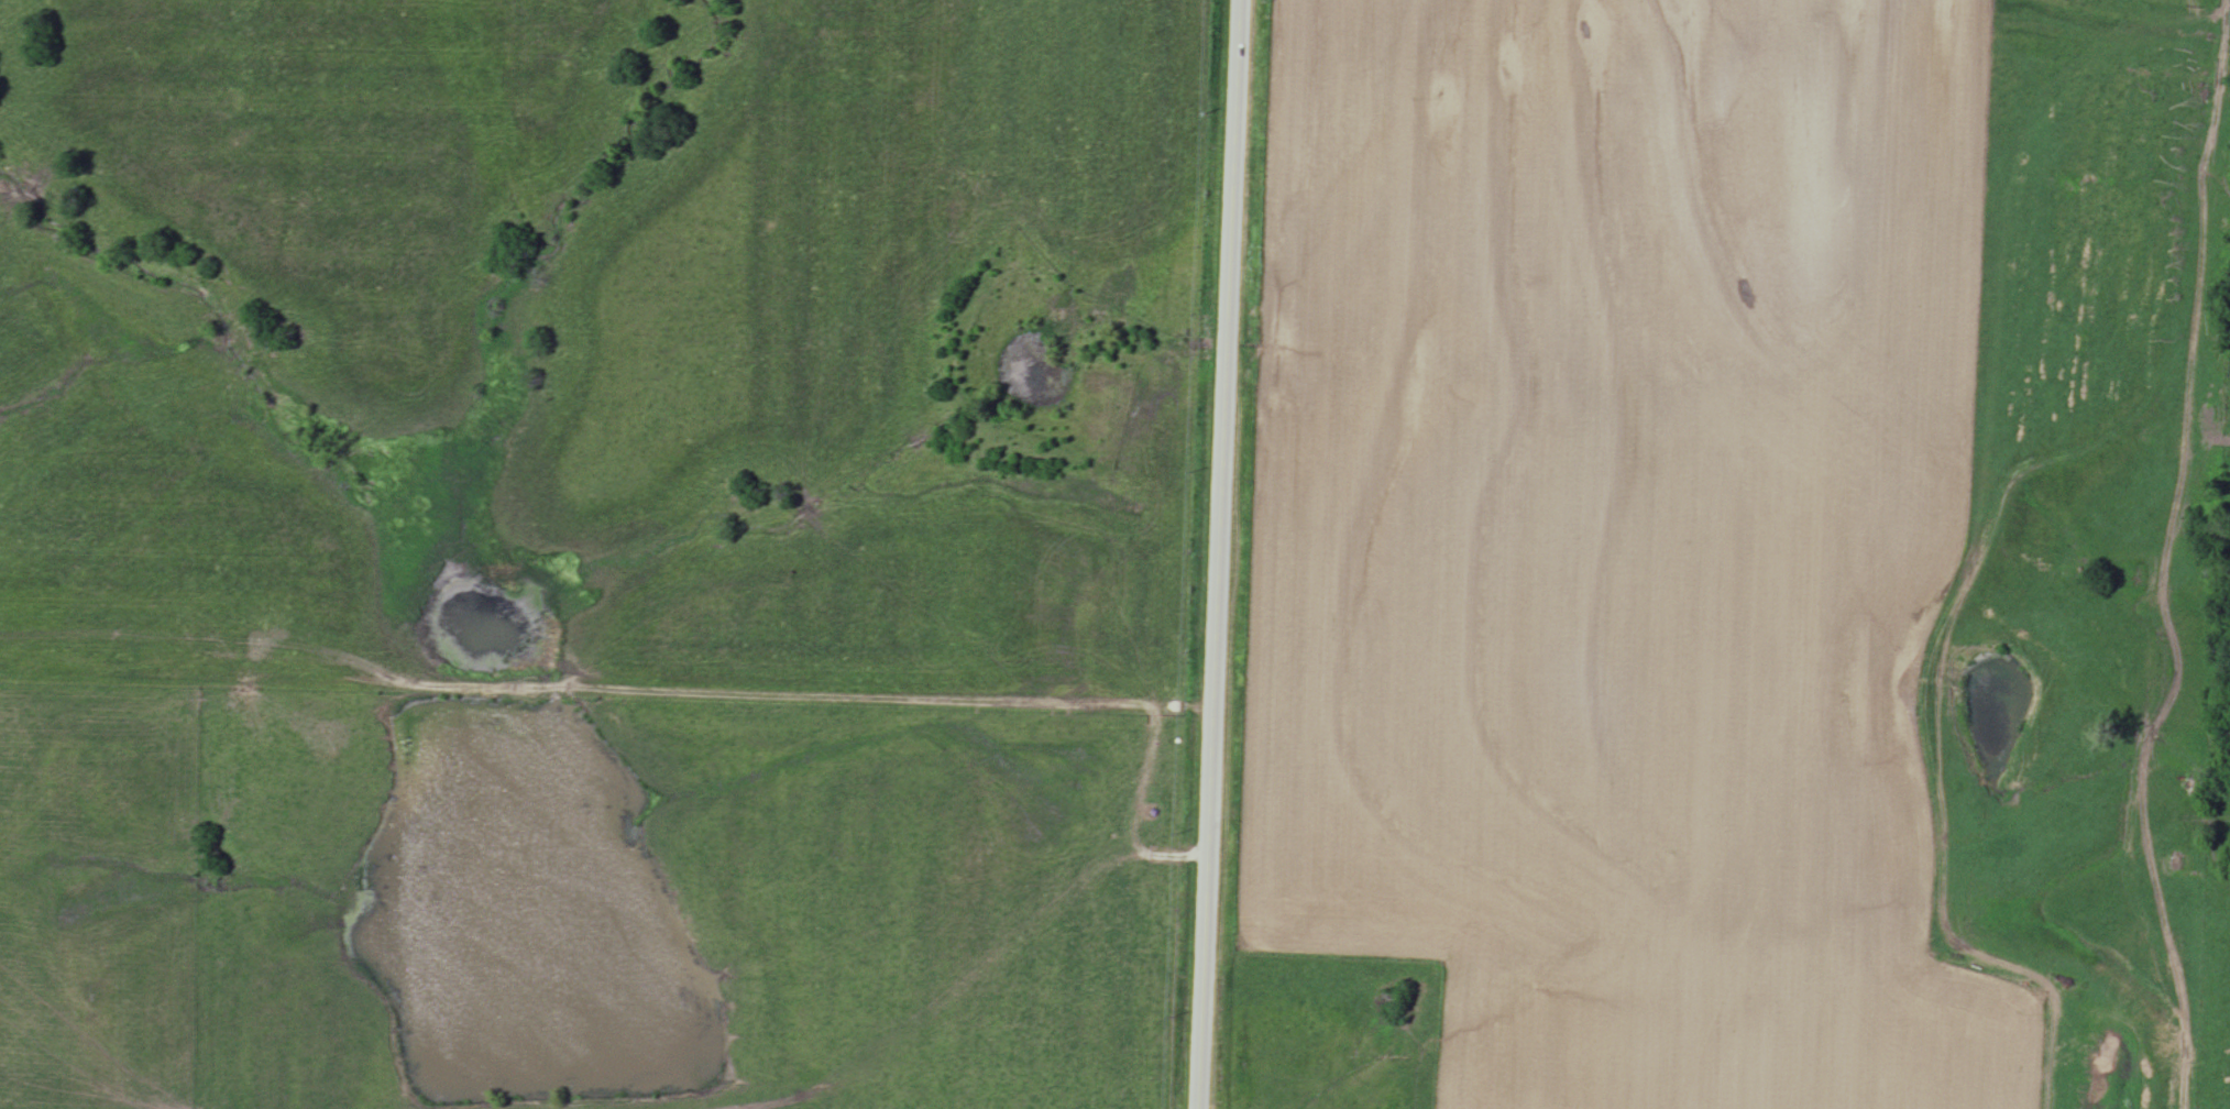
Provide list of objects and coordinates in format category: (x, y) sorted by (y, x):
crop: (1618, 539)
road: (1216, 554)
road: (605, 690)

